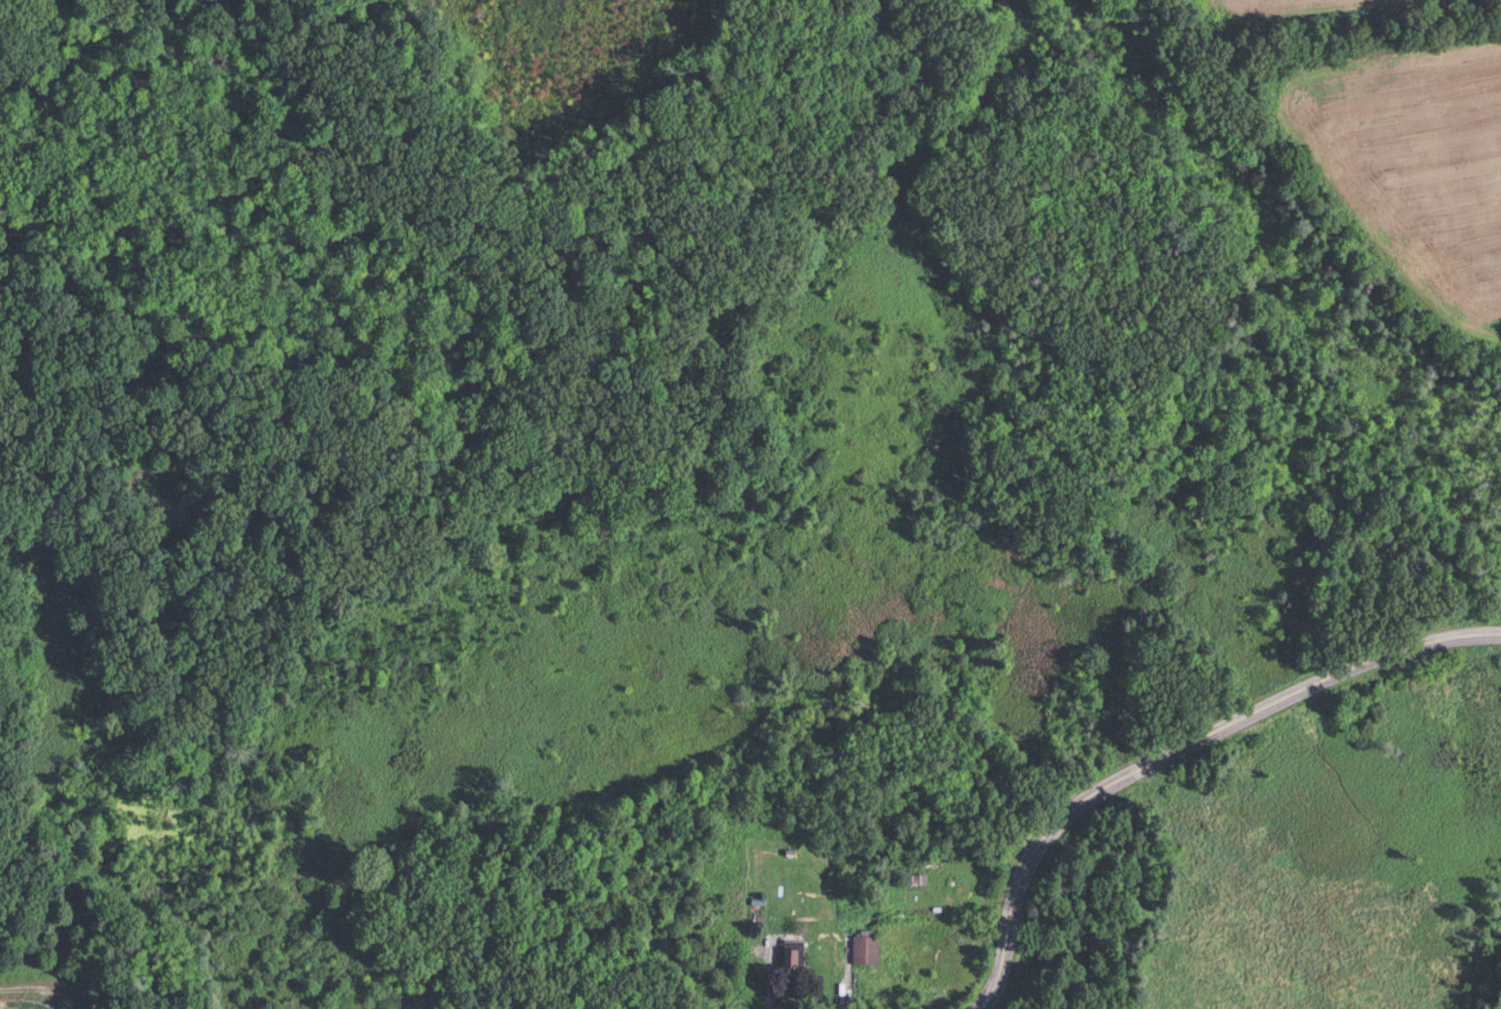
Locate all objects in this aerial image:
road: (1176, 750)
building: (865, 952)
building: (794, 957)

